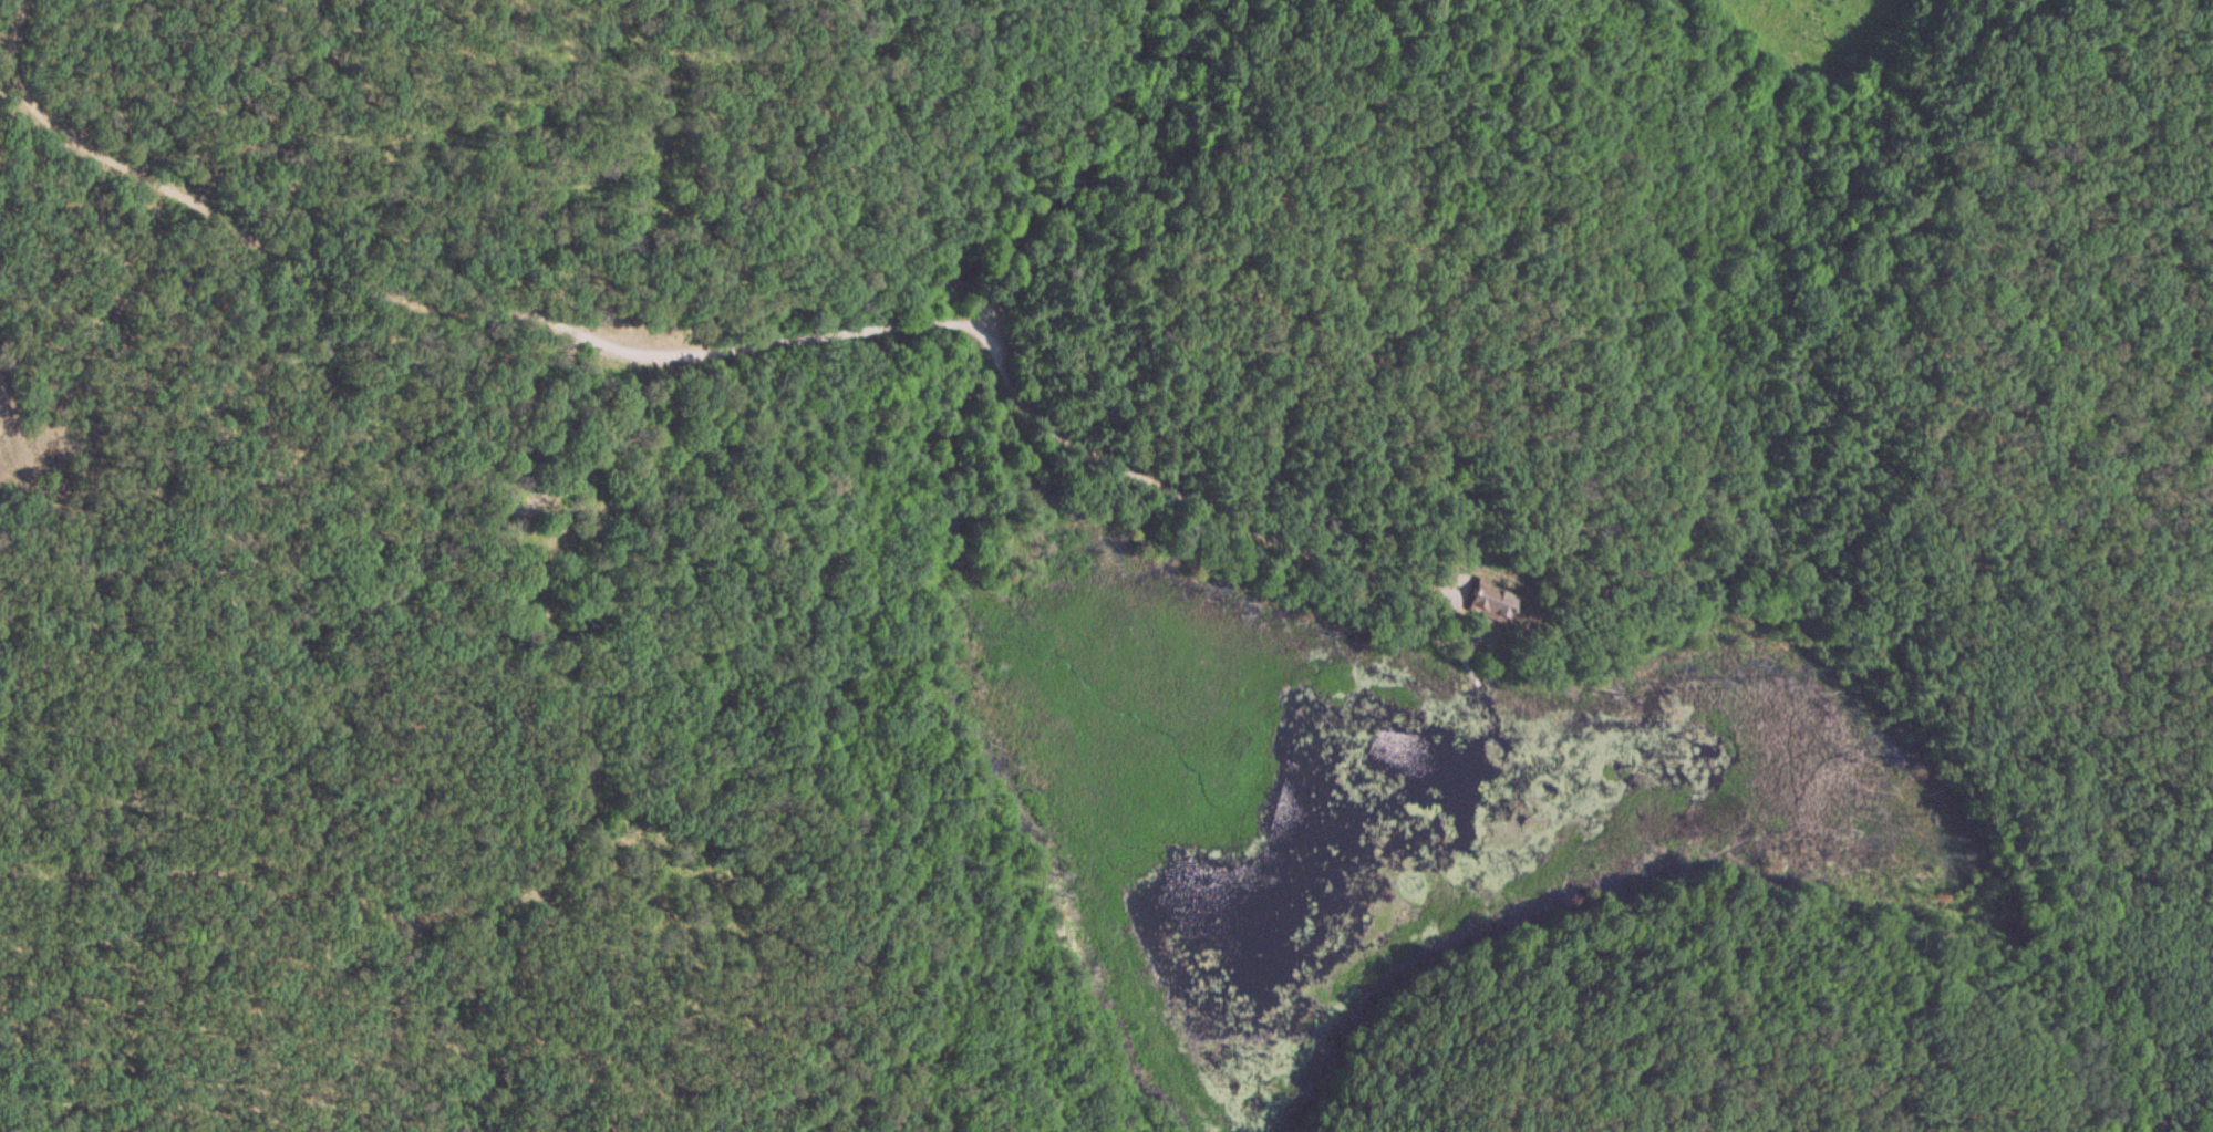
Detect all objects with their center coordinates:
road: (691, 347)
building: (1493, 601)

